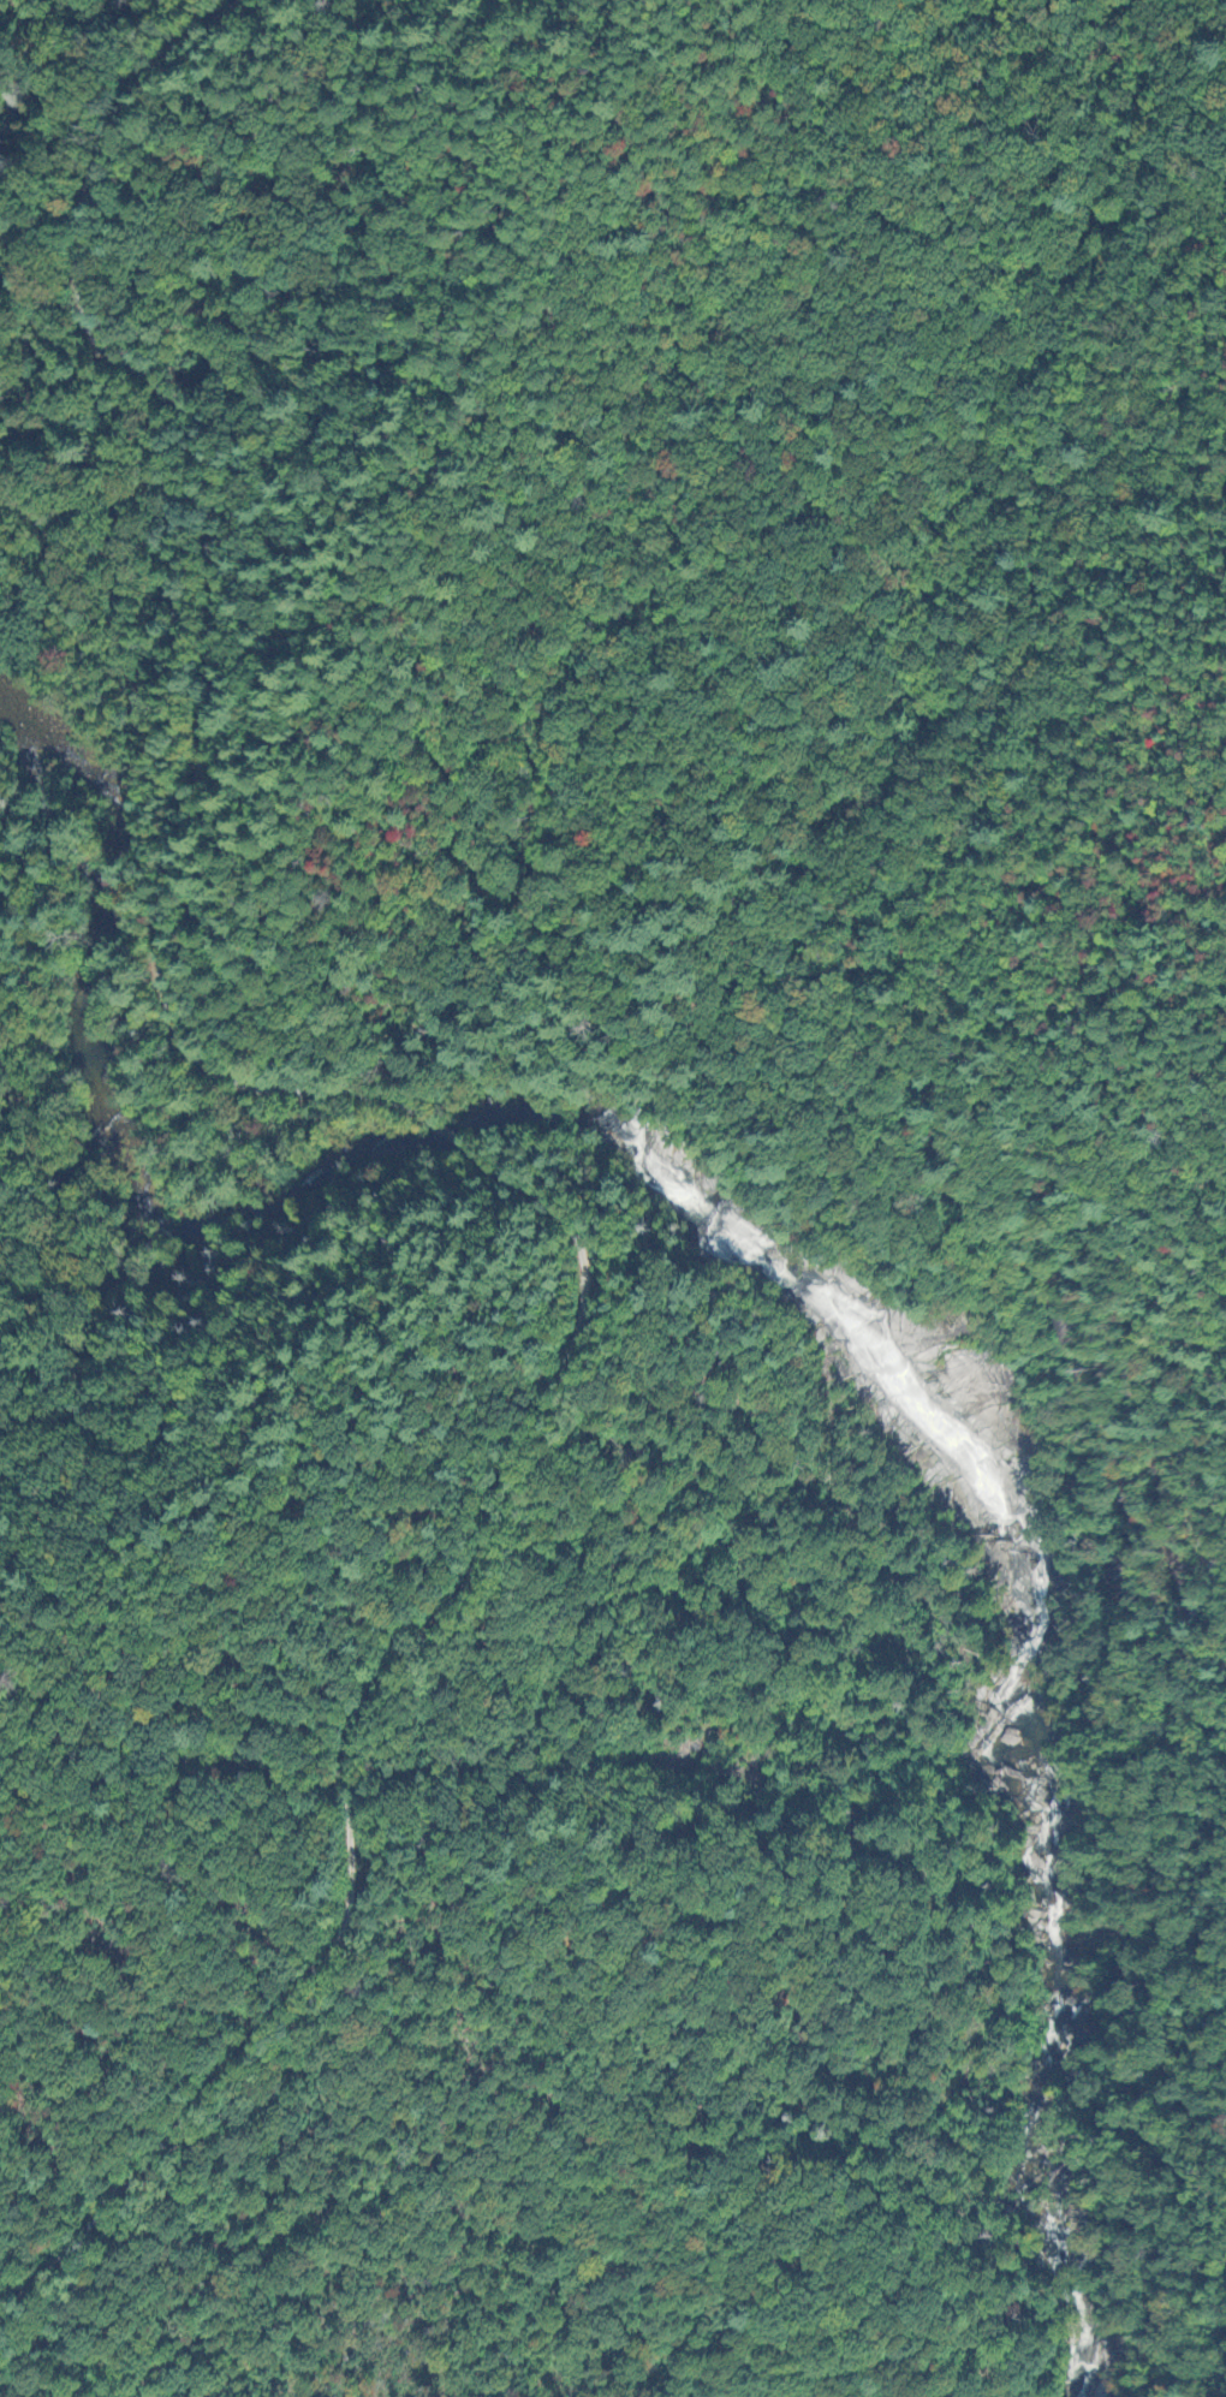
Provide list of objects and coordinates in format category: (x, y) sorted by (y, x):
road: (230, 595)
road: (1208, 837)
road: (448, 1134)
river: (739, 1249)
road: (355, 1738)

